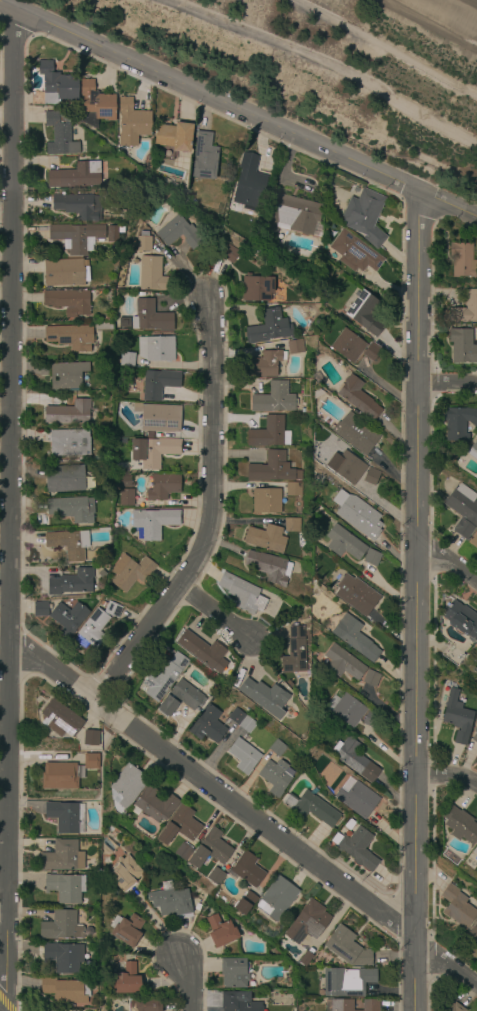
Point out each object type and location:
building: (54, 86)
building: (95, 104)
road: (238, 113)
building: (132, 123)
building: (59, 136)
building: (174, 136)
building: (204, 157)
building: (75, 176)
building: (249, 184)
building: (76, 205)
building: (294, 216)
building: (364, 216)
building: (178, 233)
building: (113, 234)
building: (75, 238)
building: (143, 242)
building: (229, 253)
building: (354, 253)
building: (462, 260)
building: (65, 272)
building: (151, 274)
building: (256, 288)
building: (68, 301)
building: (466, 308)
building: (365, 312)
building: (150, 317)
building: (103, 325)
building: (269, 327)
building: (70, 336)
building: (462, 346)
building: (295, 347)
building: (348, 347)
building: (154, 349)
building: (371, 352)
building: (126, 359)
building: (265, 364)
building: (66, 374)
building: (158, 383)
road: (449, 385)
building: (317, 393)
building: (273, 398)
building: (357, 398)
building: (68, 413)
building: (161, 418)
building: (458, 423)
building: (267, 433)
building: (355, 433)
building: (150, 435)
building: (69, 443)
building: (153, 451)
building: (473, 451)
building: (346, 467)
building: (273, 469)
building: (371, 476)
building: (64, 479)
building: (123, 482)
building: (163, 486)
building: (294, 489)
building: (126, 497)
building: (266, 501)
building: (462, 509)
building: (69, 510)
road: (13, 512)
building: (354, 512)
road: (215, 522)
building: (153, 523)
building: (292, 526)
building: (102, 532)
building: (266, 539)
building: (473, 540)
building: (344, 543)
building: (66, 545)
building: (371, 558)
road: (449, 562)
building: (269, 567)
building: (128, 572)
building: (101, 574)
building: (70, 584)
building: (241, 592)
building: (358, 598)
road: (420, 603)
building: (38, 610)
building: (112, 611)
road: (219, 616)
building: (68, 617)
building: (461, 621)
building: (91, 629)
building: (355, 637)
building: (475, 649)
building: (203, 652)
building: (294, 652)
building: (343, 663)
building: (163, 677)
building: (370, 678)
building: (263, 698)
building: (178, 699)
building: (345, 708)
building: (476, 715)
building: (457, 717)
building: (60, 719)
building: (370, 719)
building: (240, 721)
building: (207, 725)
building: (474, 732)
building: (90, 738)
building: (277, 748)
road: (214, 753)
building: (243, 755)
building: (354, 758)
building: (66, 772)
building: (275, 777)
road: (449, 781)
building: (127, 786)
building: (356, 797)
building: (154, 805)
road: (237, 808)
building: (311, 808)
building: (63, 817)
building: (180, 825)
building: (460, 825)
building: (109, 829)
building: (356, 848)
building: (122, 849)
building: (210, 849)
building: (475, 850)
building: (183, 852)
building: (61, 856)
building: (246, 869)
building: (125, 873)
building: (214, 876)
building: (65, 887)
building: (276, 899)
building: (171, 903)
building: (245, 903)
building: (198, 905)
building: (457, 907)
building: (307, 922)
building: (60, 925)
building: (126, 929)
building: (220, 931)
building: (471, 933)
building: (347, 948)
building: (275, 952)
building: (63, 957)
building: (305, 959)
building: (234, 972)
building: (126, 980)
building: (346, 982)
road: (190, 985)
building: (65, 990)
building: (238, 1002)
building: (449, 1004)
building: (144, 1005)
building: (342, 1005)

